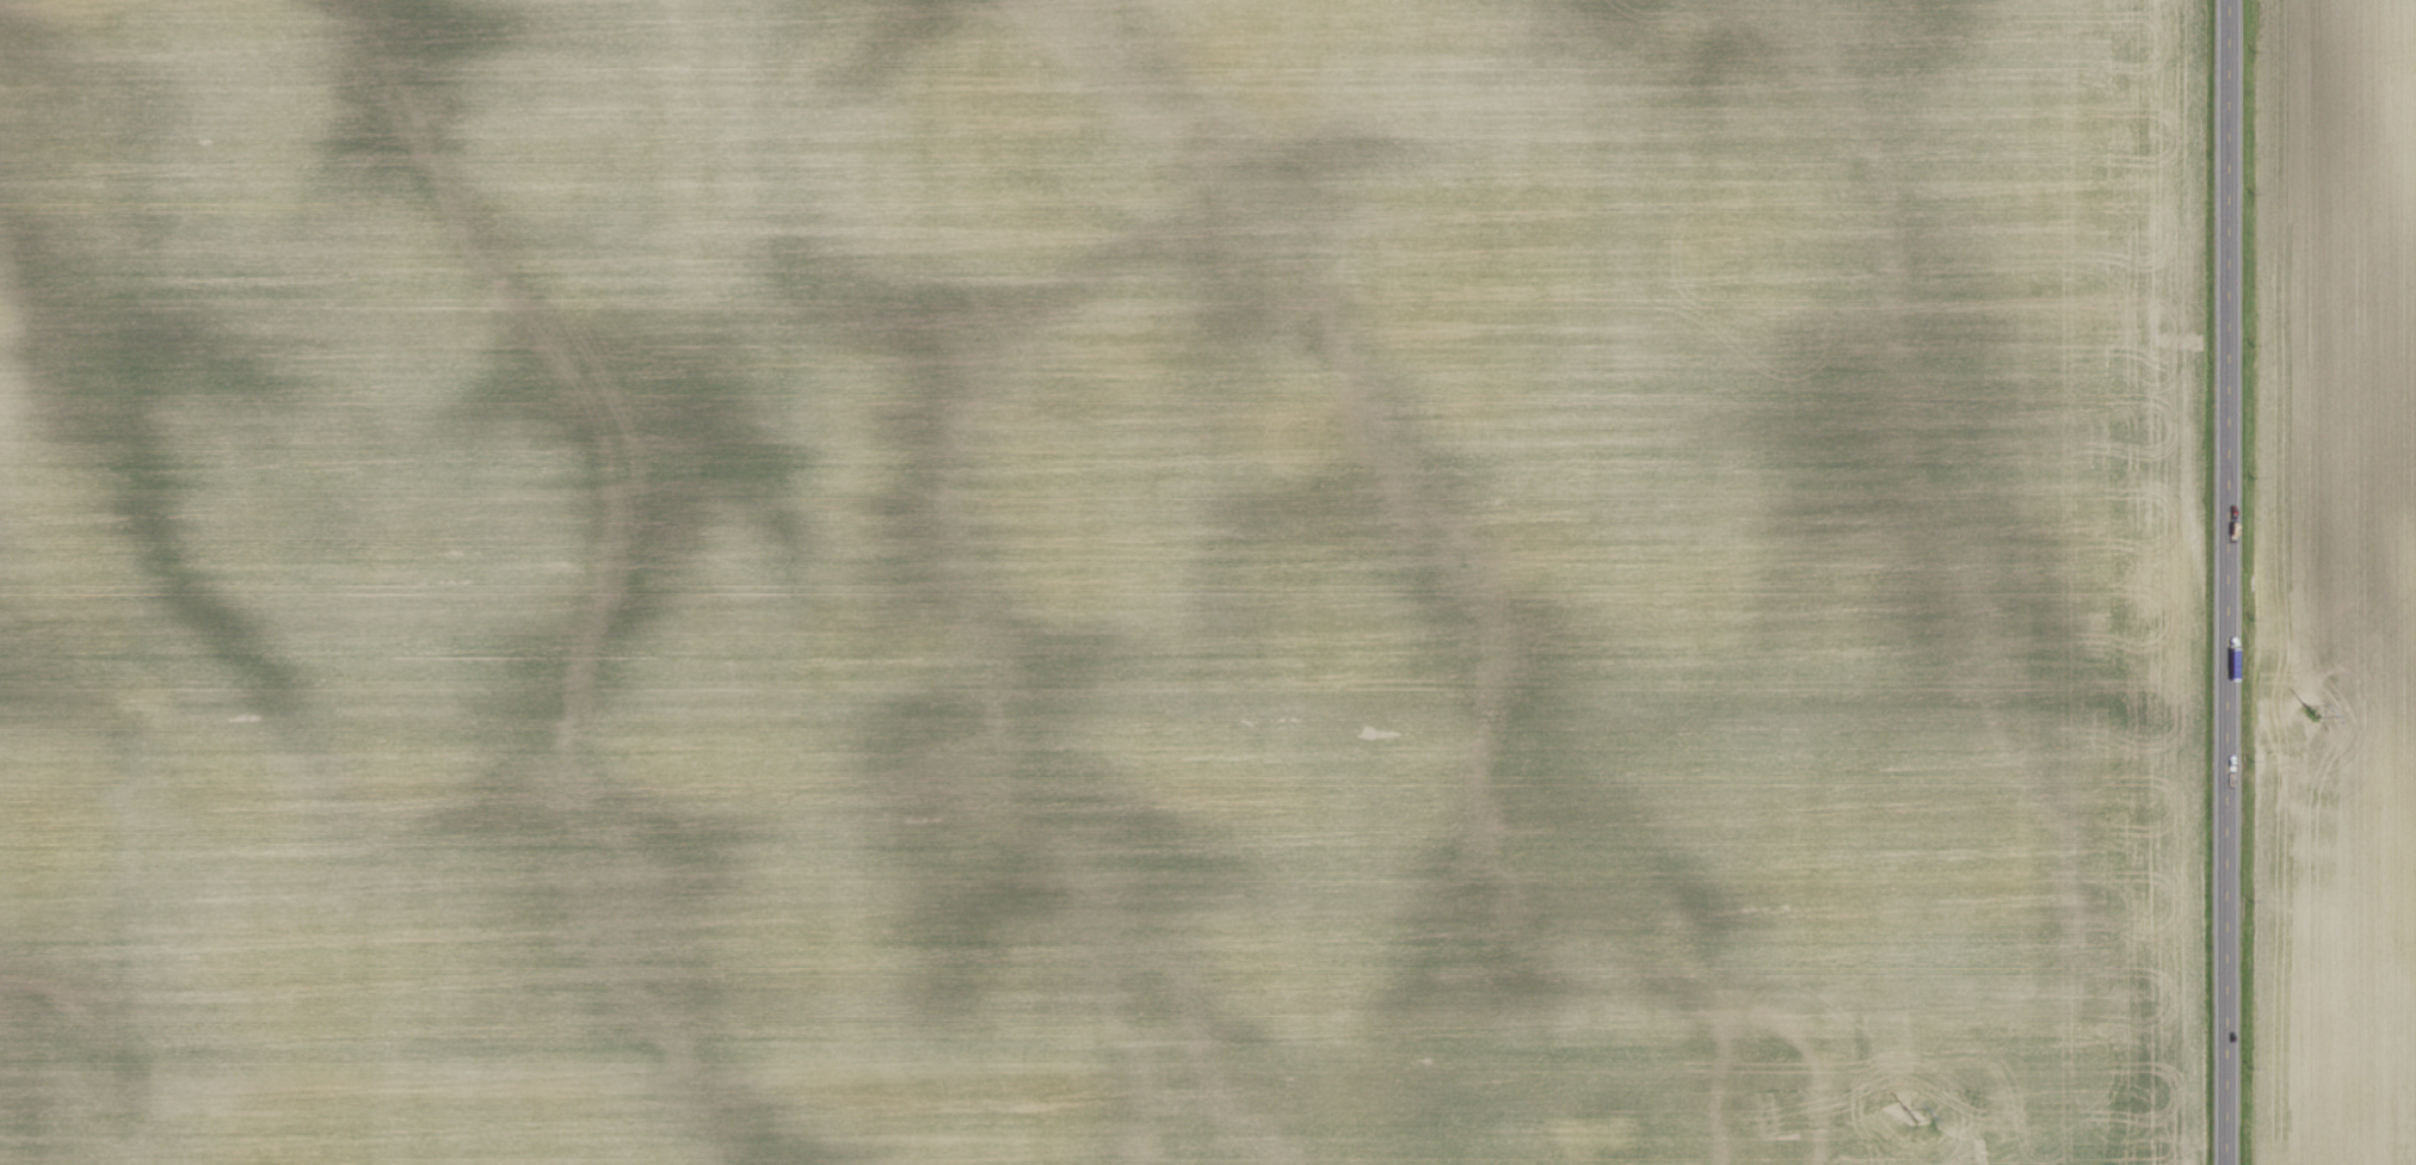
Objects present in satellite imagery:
road: (2226, 582)
power tower: (2309, 709)
power tower: (1910, 1112)

